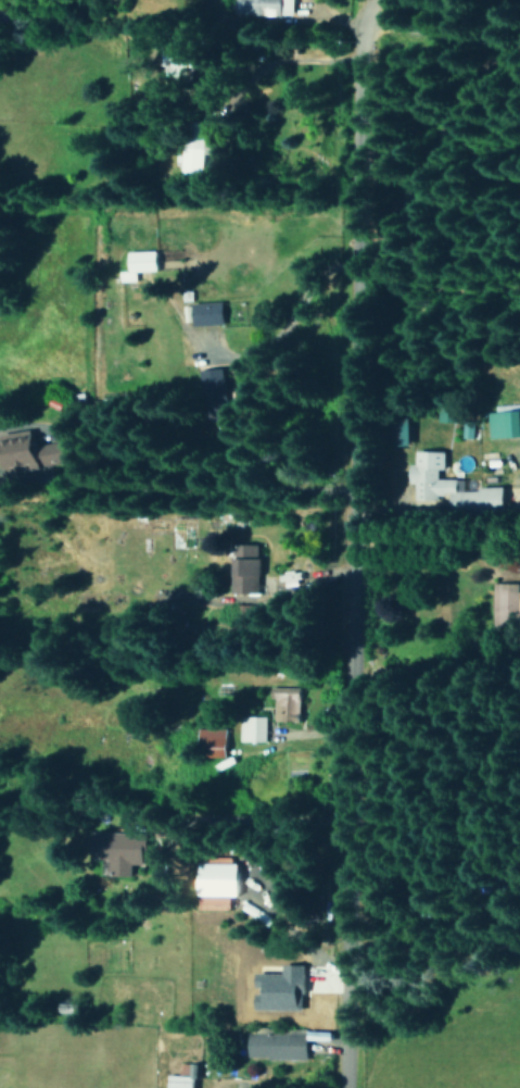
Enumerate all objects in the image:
building: (267, 7)
river: (10, 11)
road: (426, 34)
road: (359, 126)
road: (431, 135)
building: (195, 153)
building: (141, 264)
building: (210, 313)
building: (213, 380)
building: (448, 413)
building: (505, 423)
building: (454, 487)
building: (249, 570)
building: (507, 606)
road: (353, 673)
building: (288, 703)
building: (253, 729)
building: (215, 742)
building: (128, 852)
building: (221, 878)
building: (215, 902)
building: (283, 989)
building: (280, 1046)
building: (186, 1078)

